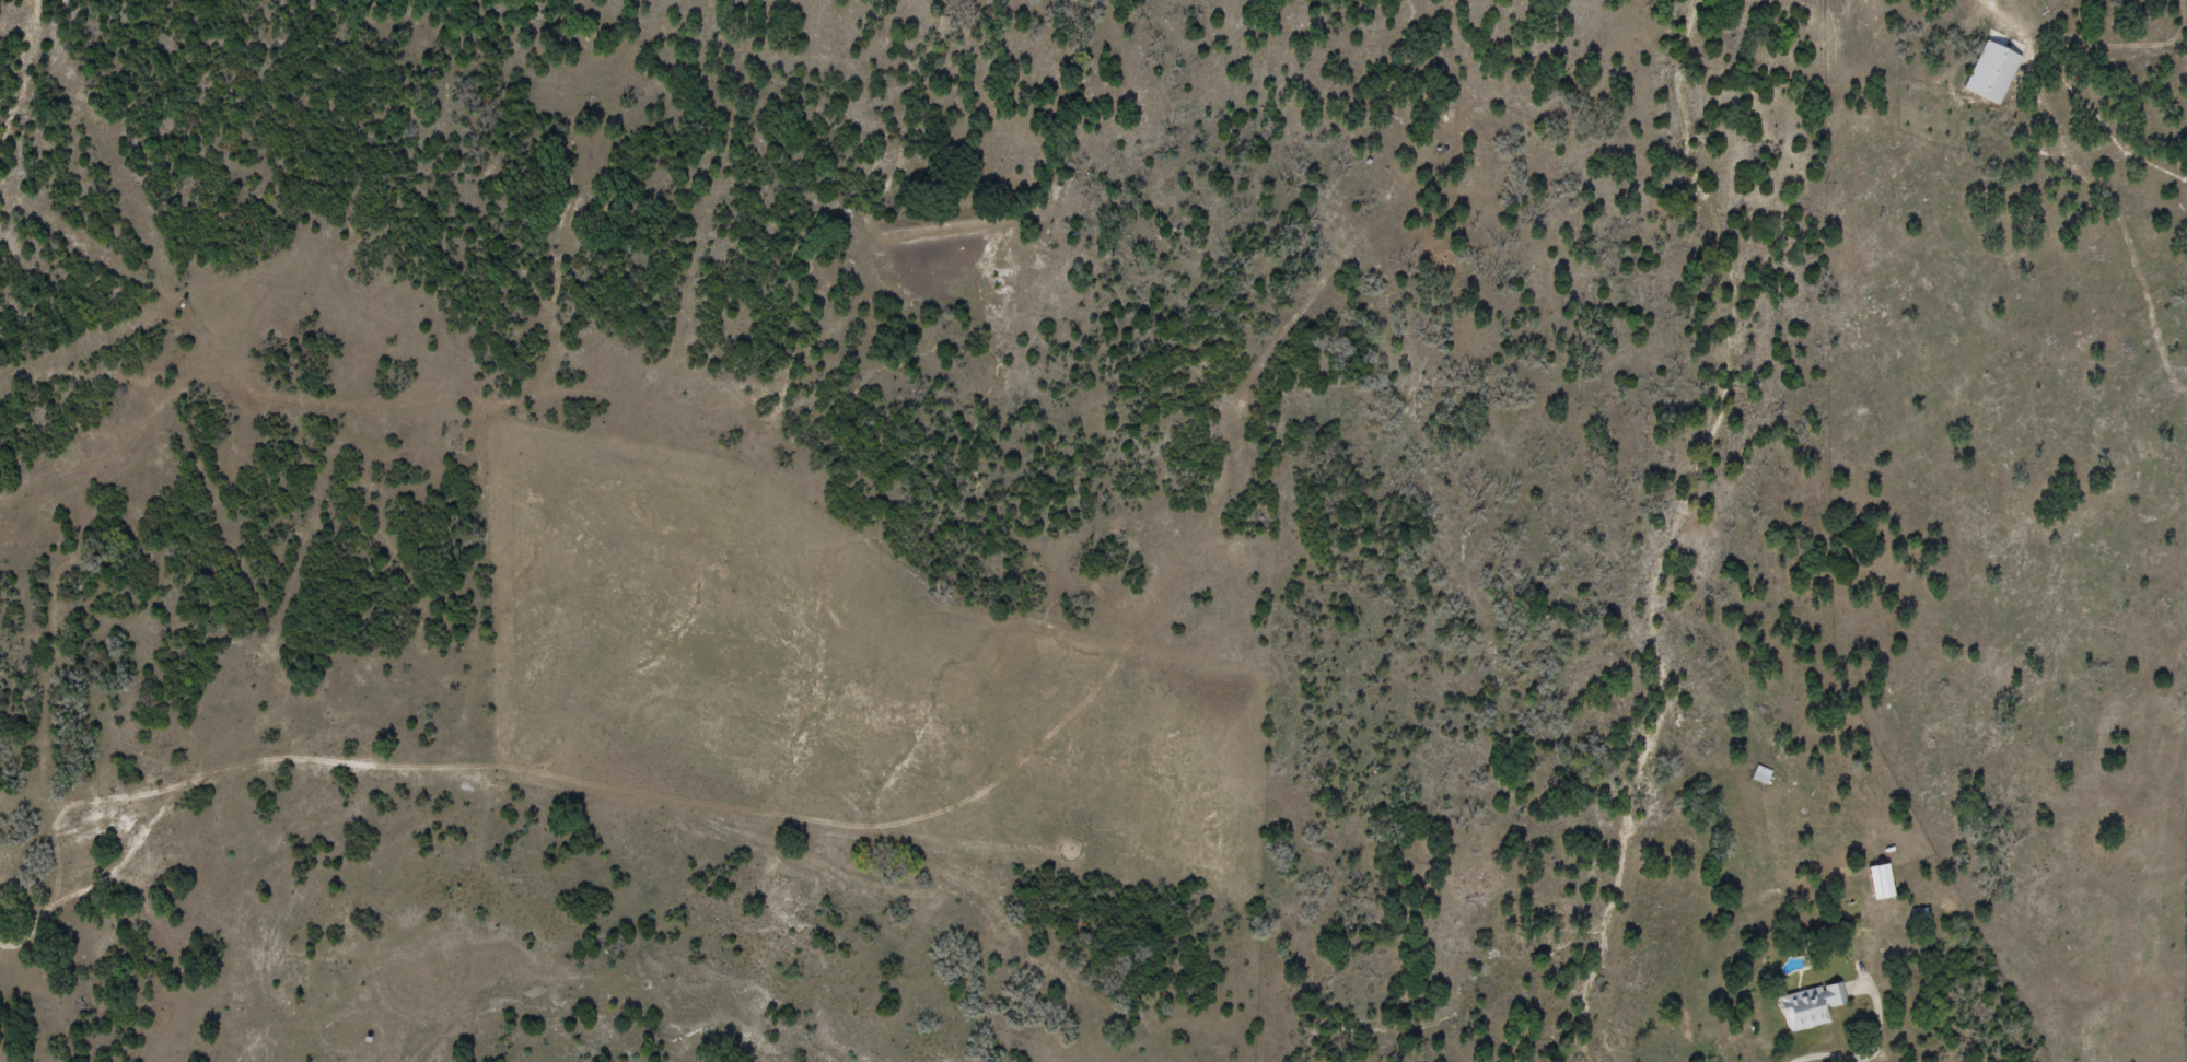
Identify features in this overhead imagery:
building: (1811, 1007)
road: (1864, 1059)

